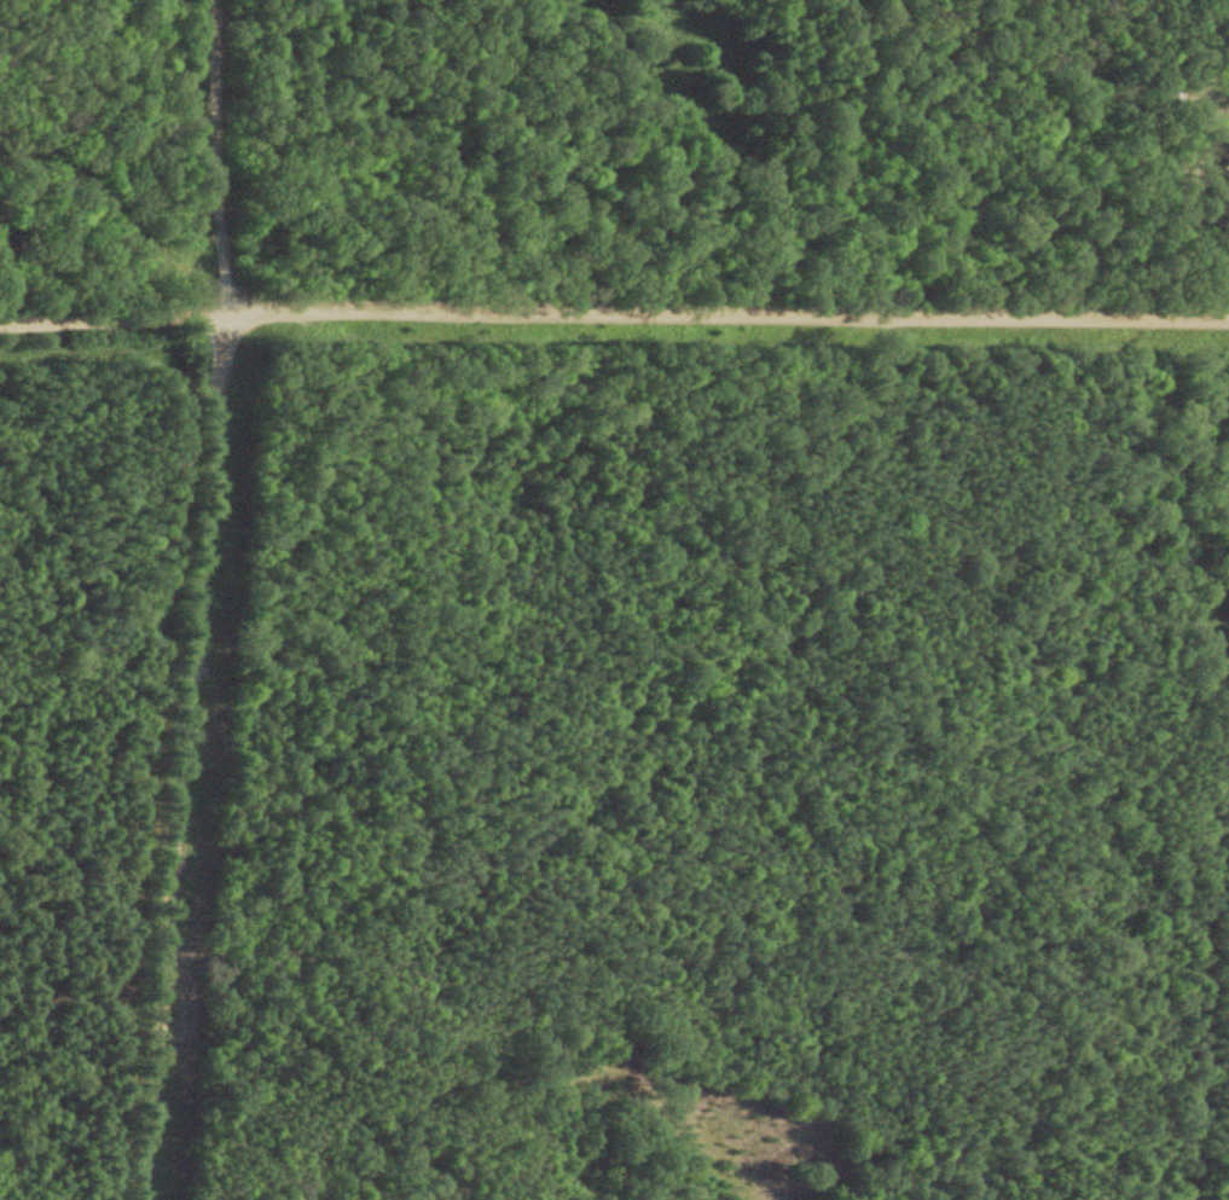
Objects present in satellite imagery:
road: (1205, 226)
road: (614, 307)
road: (198, 601)

